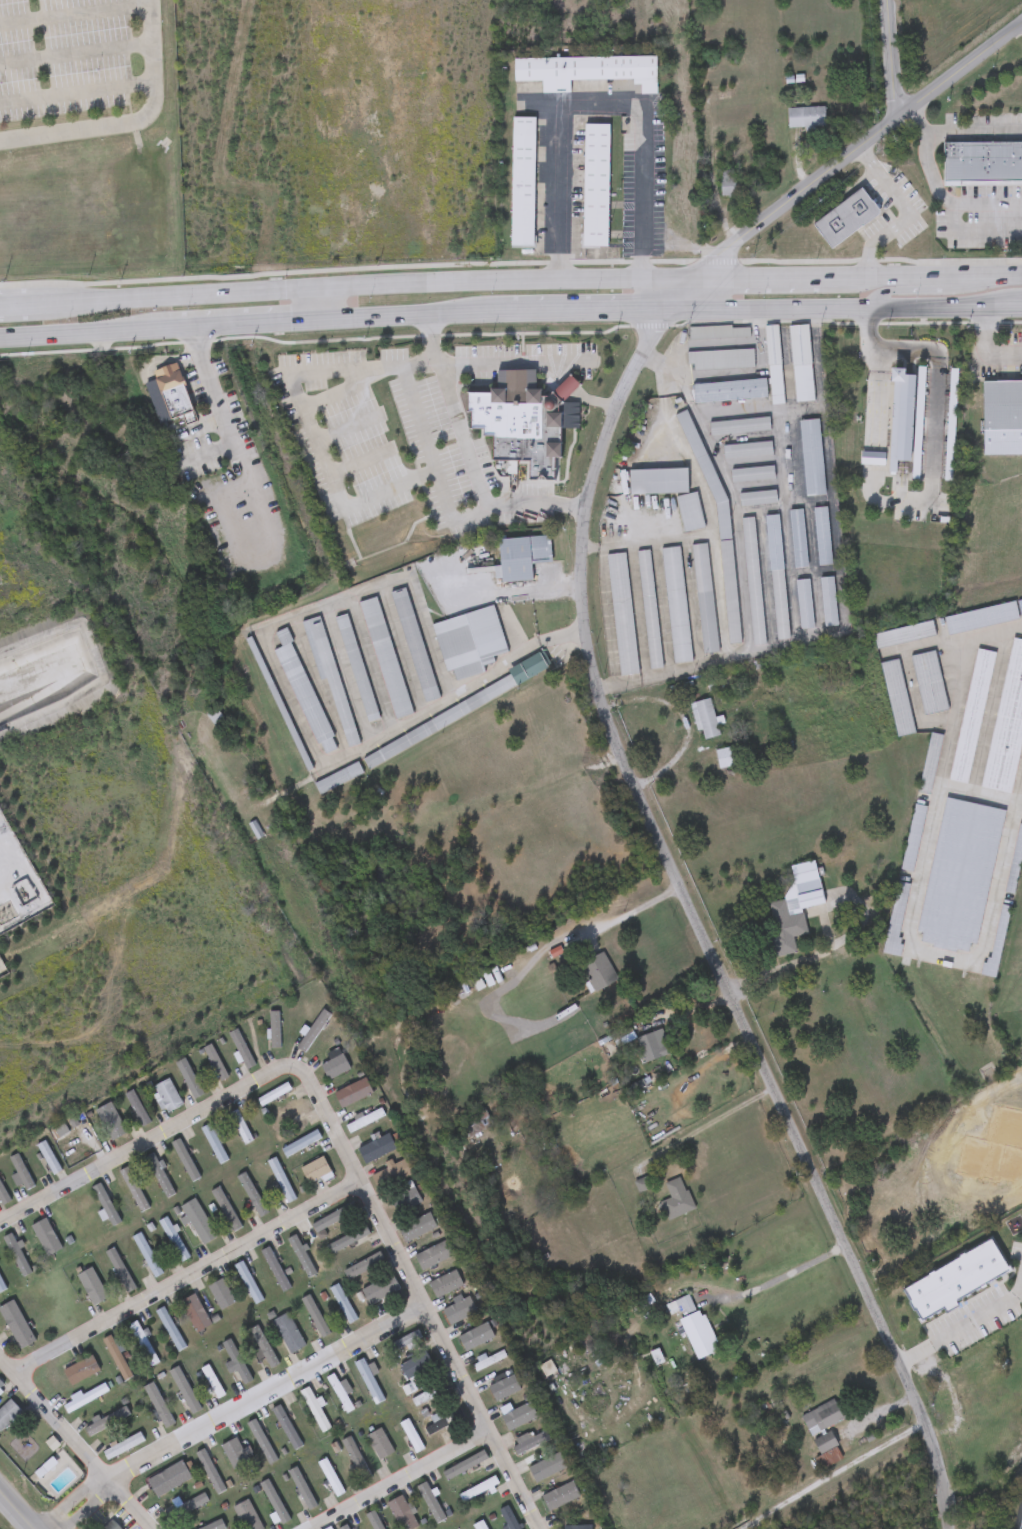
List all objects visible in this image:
road: (76, 14)
road: (77, 54)
road: (892, 60)
building: (588, 70)
road: (78, 93)
road: (596, 105)
building: (805, 118)
road: (132, 122)
road: (973, 129)
building: (954, 160)
building: (979, 160)
building: (966, 161)
building: (991, 161)
building: (1004, 161)
building: (1016, 161)
building: (522, 182)
building: (595, 185)
building: (728, 187)
road: (939, 193)
road: (911, 215)
building: (846, 218)
road: (668, 274)
road: (158, 290)
road: (644, 291)
road: (890, 292)
road: (316, 300)
road: (578, 309)
road: (833, 309)
road: (414, 311)
road: (239, 321)
road: (81, 331)
building: (718, 332)
road: (988, 343)
building: (720, 360)
road: (501, 364)
building: (774, 364)
building: (801, 364)
road: (217, 388)
road: (569, 388)
building: (172, 390)
building: (729, 391)
road: (937, 398)
road: (595, 400)
road: (876, 401)
building: (1003, 418)
building: (517, 421)
building: (739, 426)
road: (313, 434)
building: (899, 438)
building: (747, 450)
building: (811, 458)
building: (872, 459)
road: (874, 459)
road: (433, 469)
building: (751, 474)
building: (657, 482)
road: (873, 483)
building: (757, 498)
building: (689, 513)
building: (822, 537)
building: (798, 539)
building: (521, 557)
building: (777, 578)
building: (753, 582)
building: (728, 583)
road: (506, 591)
building: (704, 599)
building: (828, 602)
building: (803, 604)
building: (676, 606)
building: (649, 610)
building: (622, 614)
building: (982, 618)
building: (905, 635)
road: (986, 635)
building: (469, 642)
building: (414, 646)
building: (385, 658)
building: (356, 668)
building: (328, 672)
building: (41, 675)
building: (930, 683)
road: (457, 691)
building: (304, 694)
building: (899, 699)
building: (460, 709)
road: (610, 717)
building: (973, 717)
building: (704, 719)
building: (1008, 730)
building: (724, 758)
building: (931, 763)
building: (338, 778)
building: (915, 838)
building: (1015, 865)
building: (961, 875)
building: (794, 907)
road: (625, 916)
building: (897, 921)
road: (841, 940)
building: (998, 944)
building: (598, 973)
building: (274, 1030)
building: (314, 1031)
building: (241, 1050)
building: (214, 1063)
building: (335, 1067)
building: (192, 1078)
building: (352, 1093)
building: (273, 1094)
building: (166, 1096)
building: (137, 1109)
building: (289, 1113)
building: (364, 1121)
building: (475, 1123)
building: (113, 1125)
road: (710, 1125)
building: (240, 1127)
building: (59, 1132)
road: (153, 1141)
building: (301, 1143)
building: (213, 1144)
building: (376, 1149)
building: (49, 1158)
building: (186, 1164)
building: (20, 1172)
building: (316, 1172)
building: (392, 1174)
building: (158, 1175)
building: (280, 1180)
building: (133, 1189)
building: (252, 1196)
building: (3, 1197)
building: (405, 1200)
building: (676, 1200)
building: (106, 1206)
building: (225, 1209)
building: (198, 1222)
building: (46, 1238)
building: (174, 1240)
building: (350, 1240)
building: (17, 1253)
building: (146, 1255)
building: (302, 1255)
building: (434, 1256)
building: (363, 1267)
building: (275, 1270)
building: (122, 1273)
road: (778, 1278)
road: (188, 1279)
building: (247, 1283)
building: (445, 1285)
building: (92, 1287)
building: (1, 1288)
building: (379, 1290)
building: (221, 1295)
building: (342, 1304)
road: (424, 1304)
building: (459, 1311)
building: (195, 1314)
building: (315, 1317)
building: (16, 1325)
building: (170, 1329)
building: (693, 1331)
building: (288, 1334)
road: (962, 1334)
building: (478, 1338)
building: (143, 1344)
building: (401, 1344)
building: (262, 1349)
building: (118, 1358)
building: (236, 1361)
building: (489, 1361)
building: (416, 1366)
building: (80, 1371)
building: (368, 1382)
building: (1, 1385)
building: (504, 1388)
building: (184, 1390)
road: (266, 1394)
building: (339, 1394)
building: (430, 1395)
building: (82, 1400)
building: (158, 1406)
building: (314, 1410)
building: (8, 1414)
building: (513, 1419)
building: (444, 1422)
building: (287, 1426)
building: (823, 1426)
building: (410, 1436)
building: (261, 1441)
building: (528, 1442)
road: (73, 1445)
building: (379, 1445)
building: (123, 1447)
building: (236, 1457)
building: (356, 1461)
building: (465, 1466)
building: (541, 1474)
building: (175, 1475)
road: (834, 1476)
building: (330, 1477)
road: (400, 1481)
building: (478, 1489)
building: (302, 1490)
building: (431, 1500)
building: (276, 1505)
road: (82, 1508)
building: (187, 1508)
road: (15, 1512)
building: (401, 1514)
building: (247, 1516)
building: (507, 1518)
building: (373, 1521)
building: (481, 1525)
building: (111, 1526)
building: (206, 1526)
building: (343, 1527)
building: (577, 1528)

